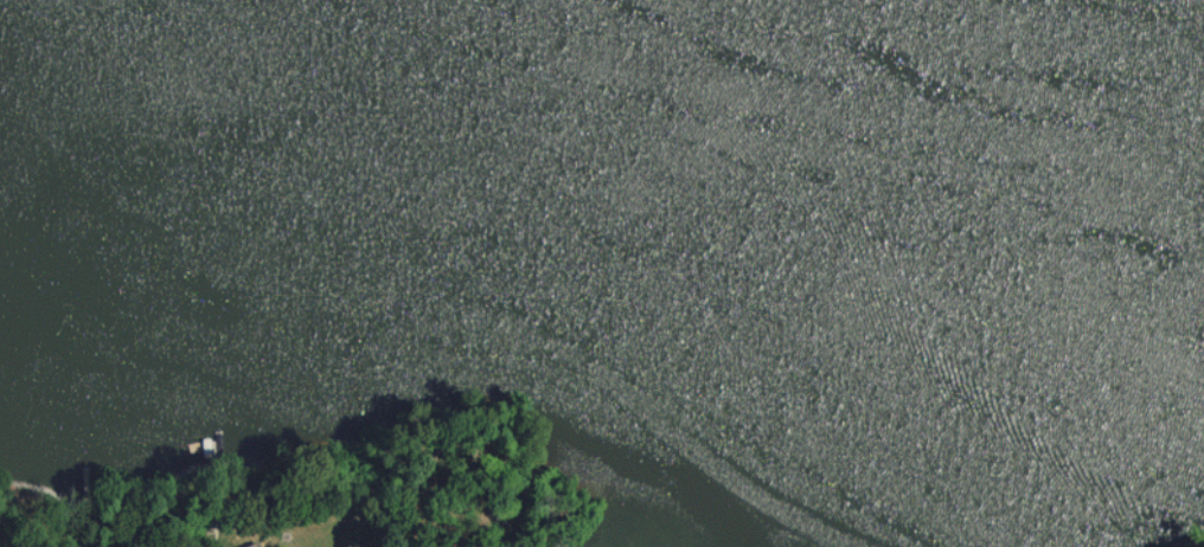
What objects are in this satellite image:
building: (249, 545)

